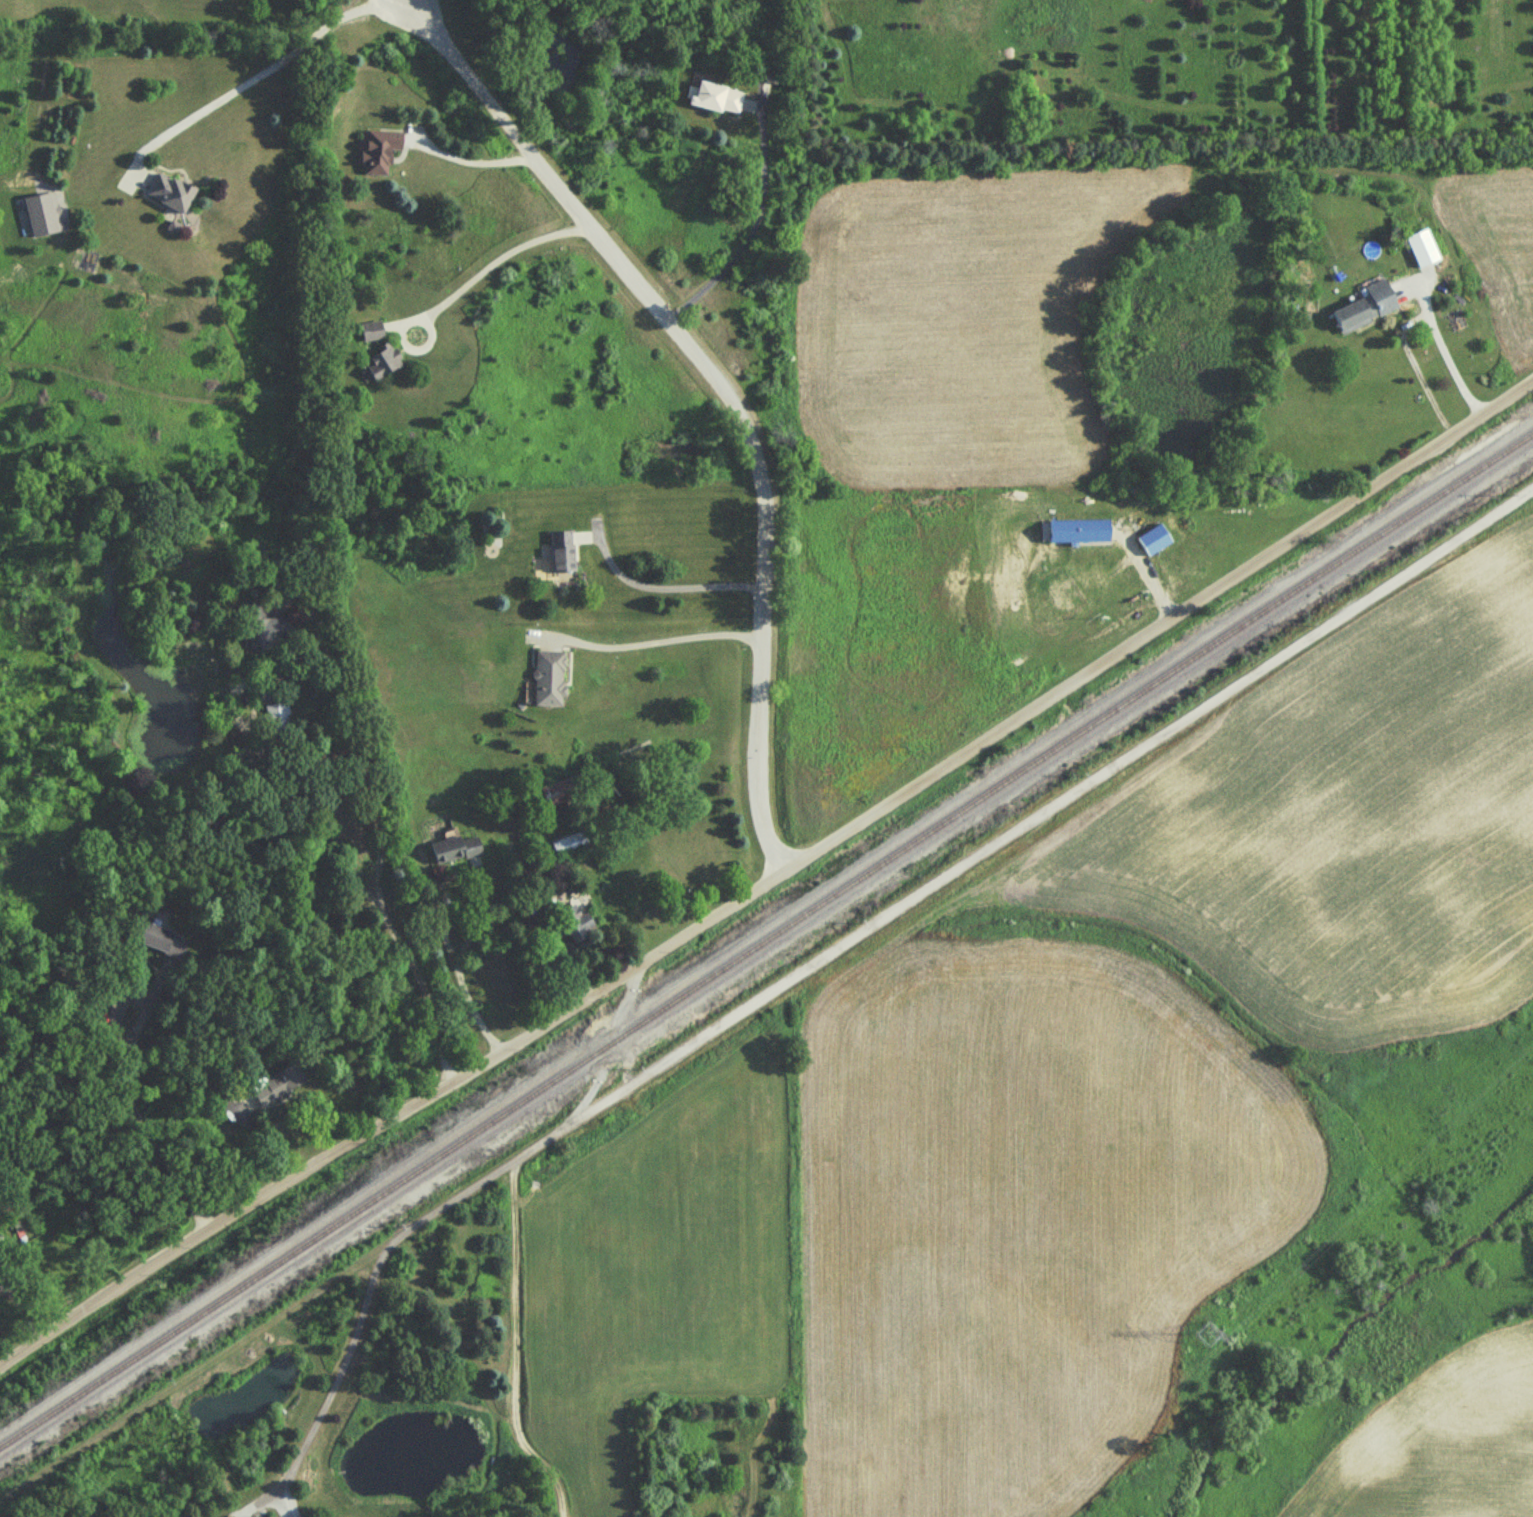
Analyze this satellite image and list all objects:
road: (251, 81)
building: (717, 99)
building: (380, 153)
road: (473, 160)
building: (171, 194)
building: (35, 212)
road: (756, 227)
building: (1423, 249)
road: (489, 256)
building: (1367, 308)
road: (1410, 318)
building: (372, 332)
road: (421, 345)
building: (384, 362)
road: (723, 386)
building: (562, 552)
road: (668, 579)
road: (648, 633)
building: (268, 636)
building: (549, 680)
building: (279, 719)
building: (562, 793)
building: (570, 845)
road: (379, 850)
building: (456, 851)
road: (771, 880)
road: (435, 903)
building: (580, 929)
railway: (766, 937)
building: (160, 942)
road: (128, 1079)
building: (279, 1086)
road: (428, 1219)
building: (16, 1232)
power tower: (1214, 1334)

